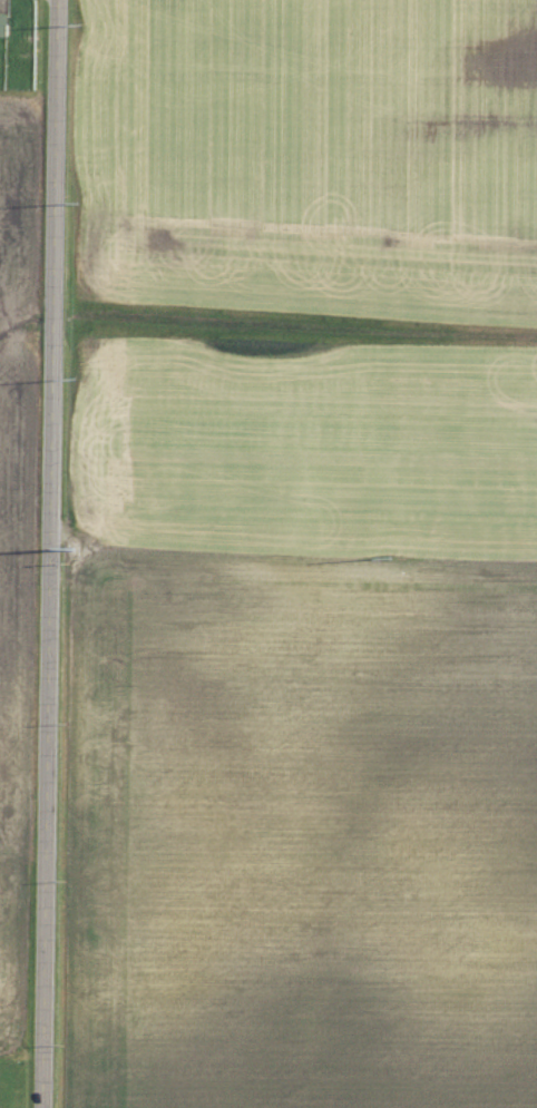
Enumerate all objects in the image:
building: (4, 24)
road: (51, 553)

